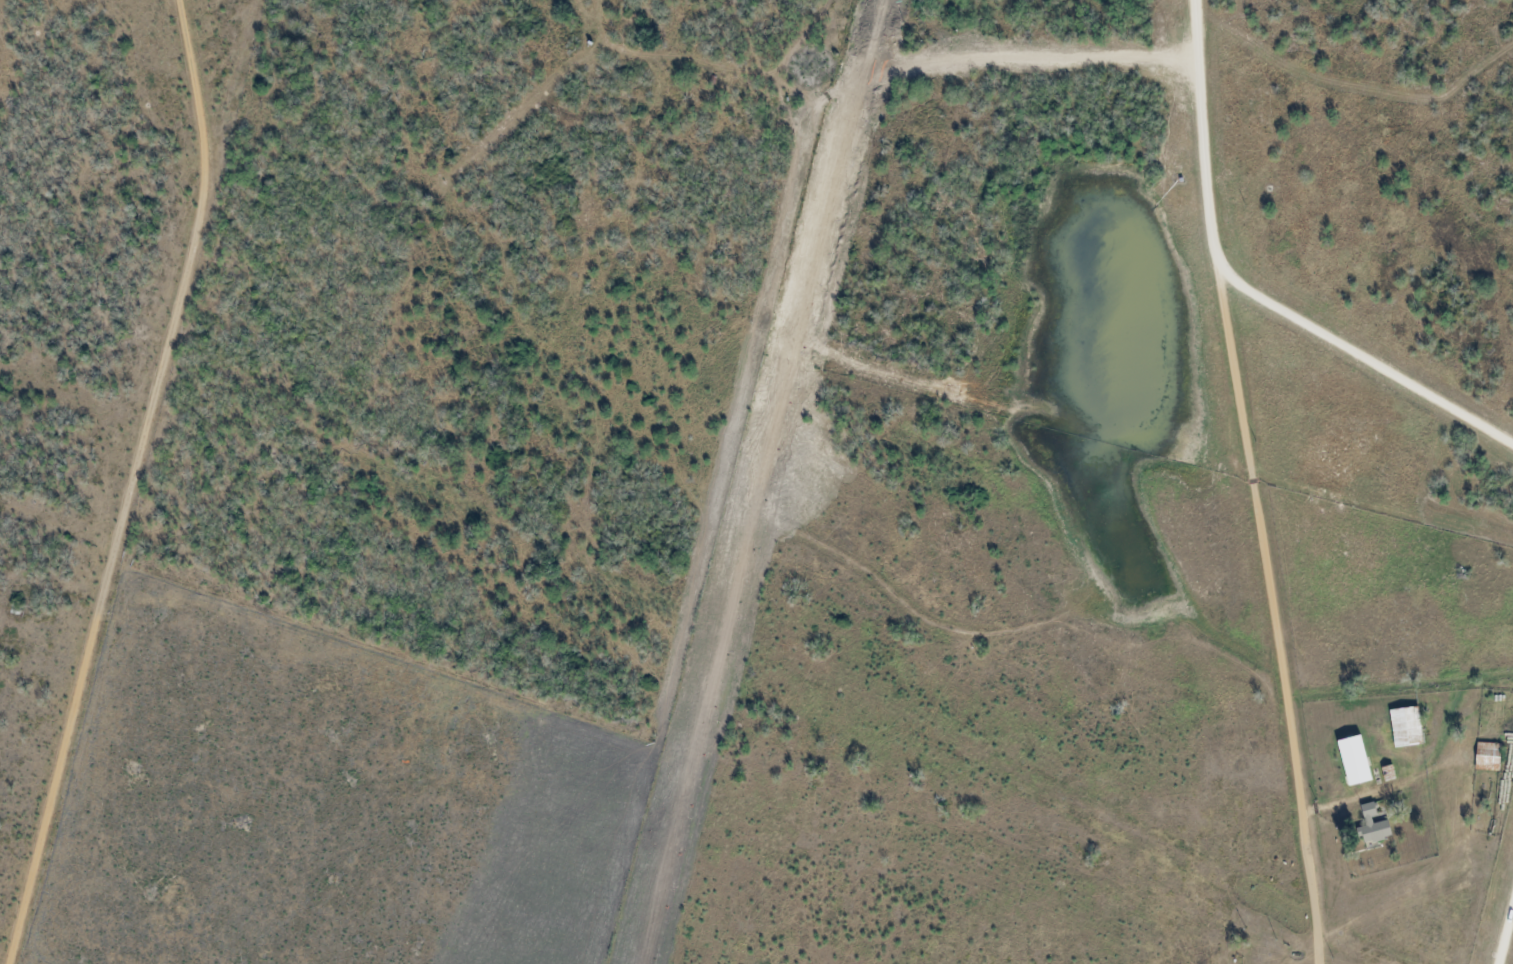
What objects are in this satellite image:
road: (1253, 482)
road: (132, 483)
building: (1411, 726)
building: (1493, 756)
building: (1359, 760)
building: (1394, 771)
building: (1380, 819)
building: (1374, 826)

